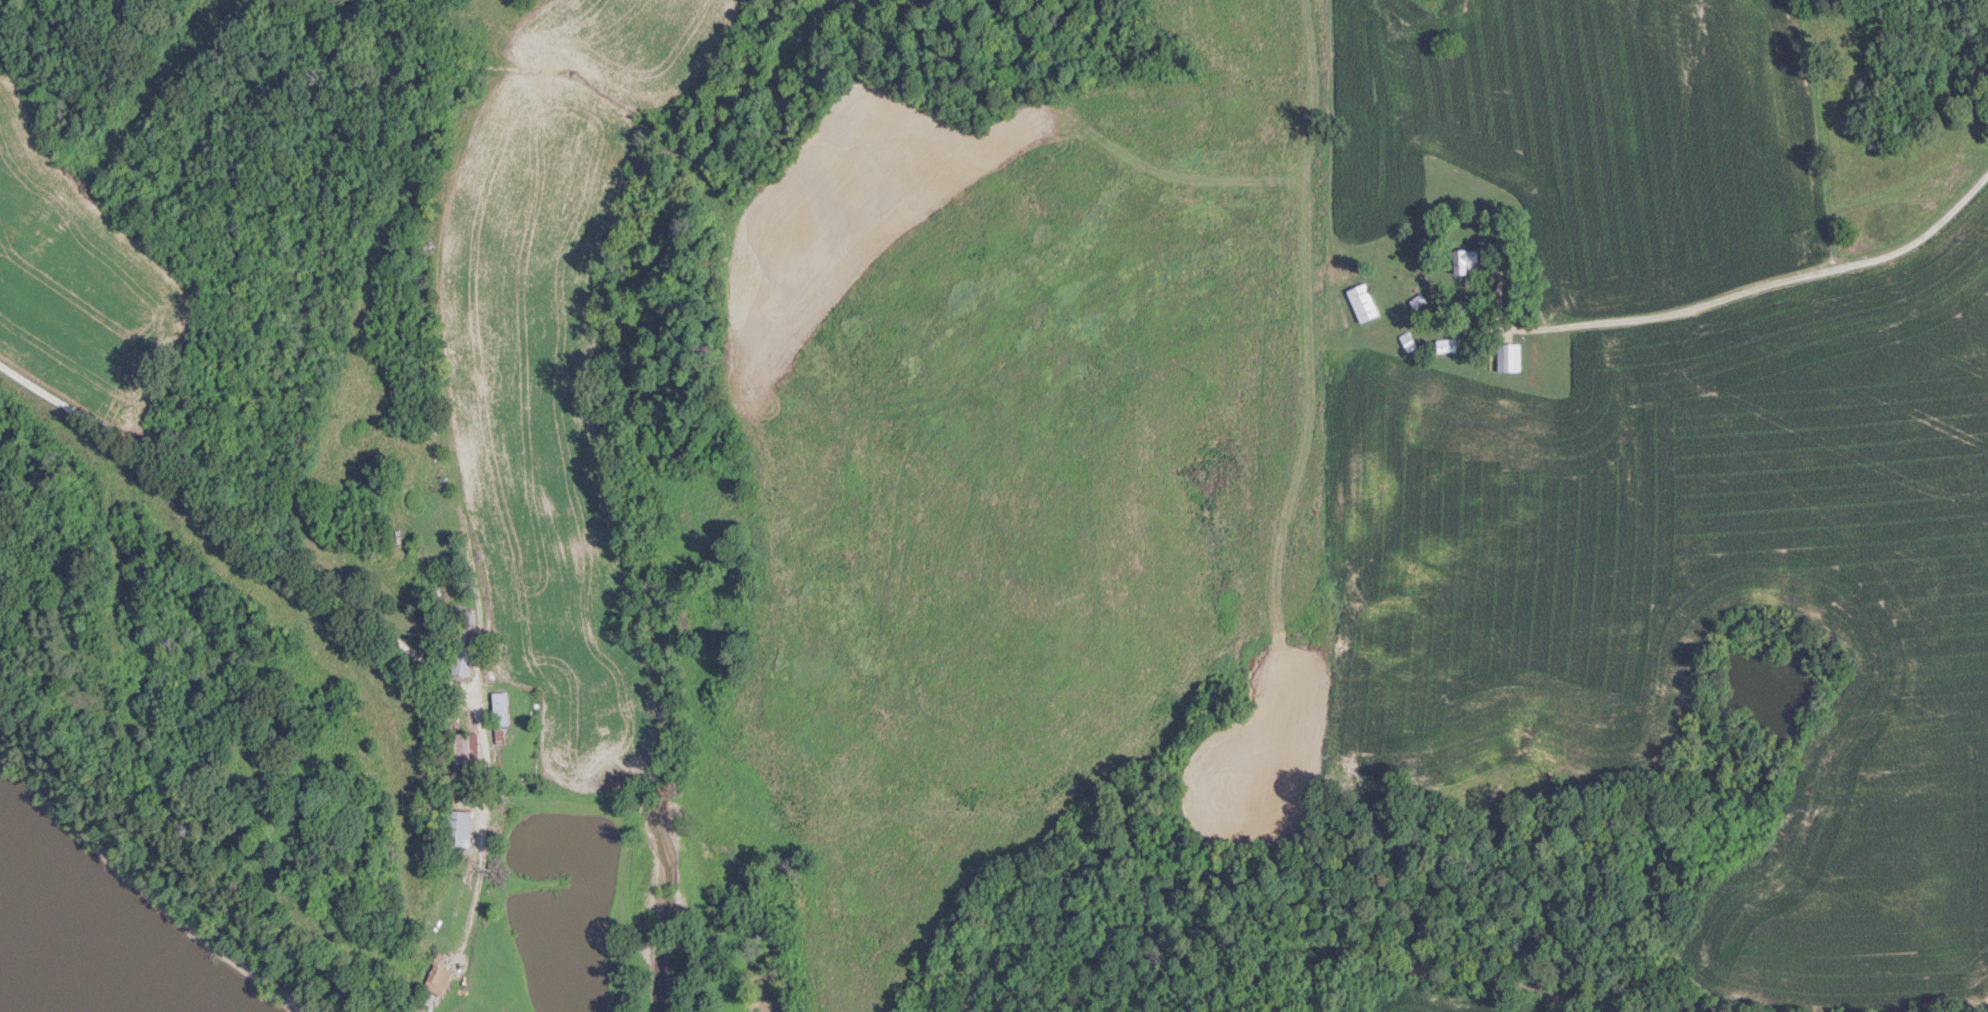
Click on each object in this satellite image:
building: (1464, 259)
building: (458, 263)
road: (1763, 285)
road: (423, 290)
building: (1362, 302)
building: (1446, 343)
building: (1508, 356)
road: (230, 489)
building: (461, 642)
building: (499, 708)
road: (481, 741)
building: (458, 746)
building: (456, 826)
building: (436, 979)

